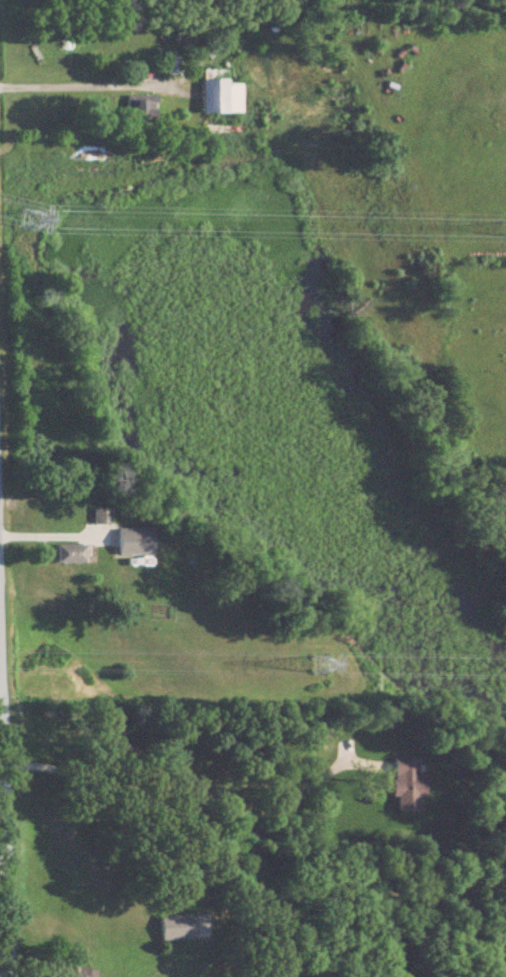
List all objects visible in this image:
building: (72, 39)
building: (173, 66)
road: (75, 85)
building: (224, 94)
building: (144, 110)
building: (71, 171)
power tower: (24, 222)
building: (103, 518)
road: (56, 532)
building: (137, 543)
building: (69, 556)
power tower: (312, 667)
road: (0, 780)
building: (404, 784)
road: (178, 814)
road: (3, 868)
building: (173, 928)
road: (175, 960)
building: (79, 972)

